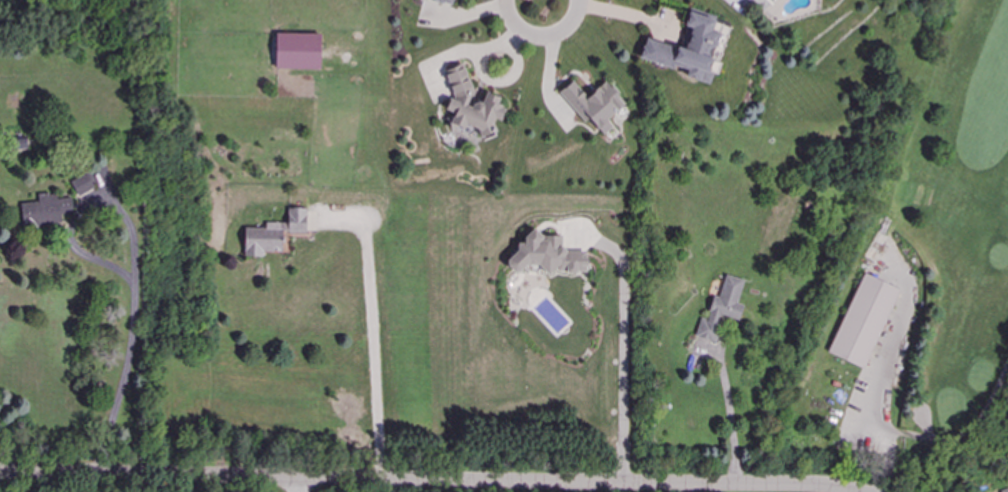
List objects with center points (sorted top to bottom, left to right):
building: (443, 2)
road: (541, 3)
road: (598, 9)
building: (688, 49)
road: (477, 50)
building: (298, 51)
building: (459, 101)
building: (595, 105)
building: (82, 185)
building: (46, 211)
building: (274, 234)
building: (547, 256)
park: (913, 276)
building: (722, 309)
building: (862, 322)
road: (378, 334)
road: (623, 353)
road: (125, 366)
road: (880, 373)
road: (731, 419)
road: (971, 431)
road: (423, 482)
road: (77, 484)
road: (300, 486)

